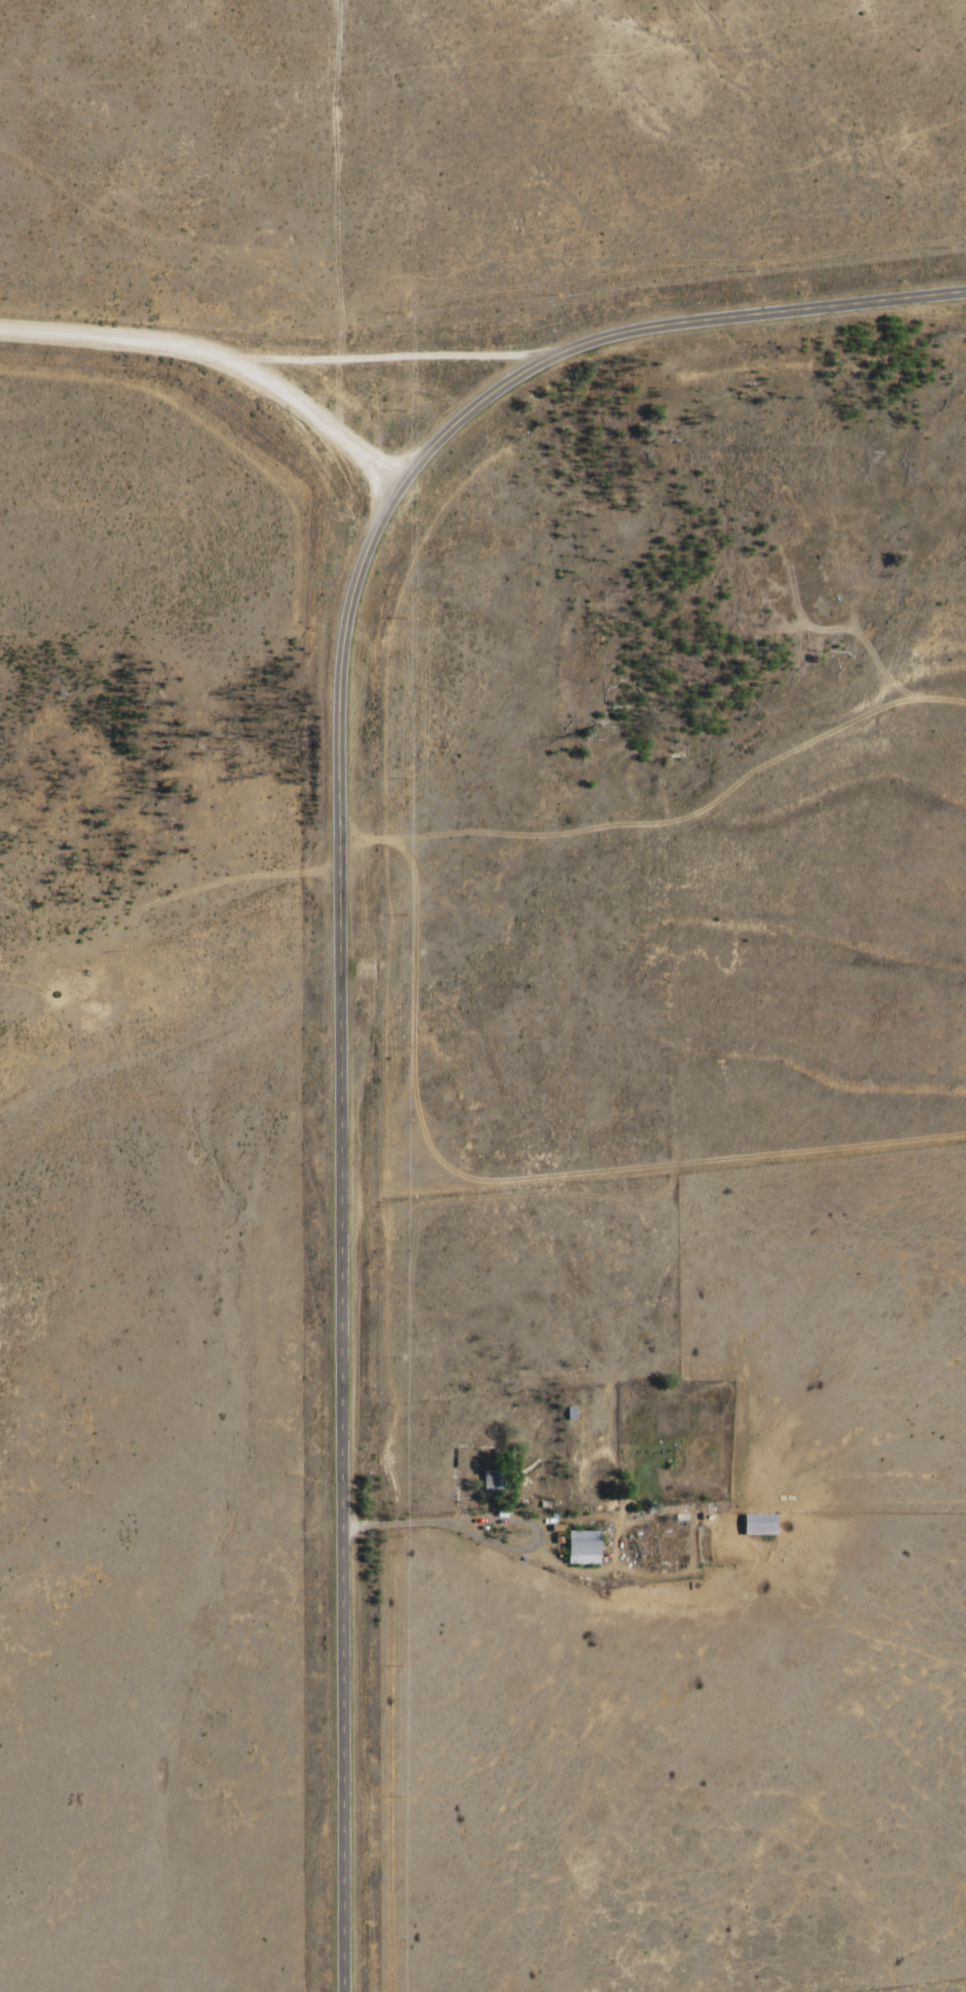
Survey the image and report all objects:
road: (407, 240)
road: (220, 362)
road: (171, 906)
road: (346, 927)
road: (403, 1531)
road: (518, 1556)

